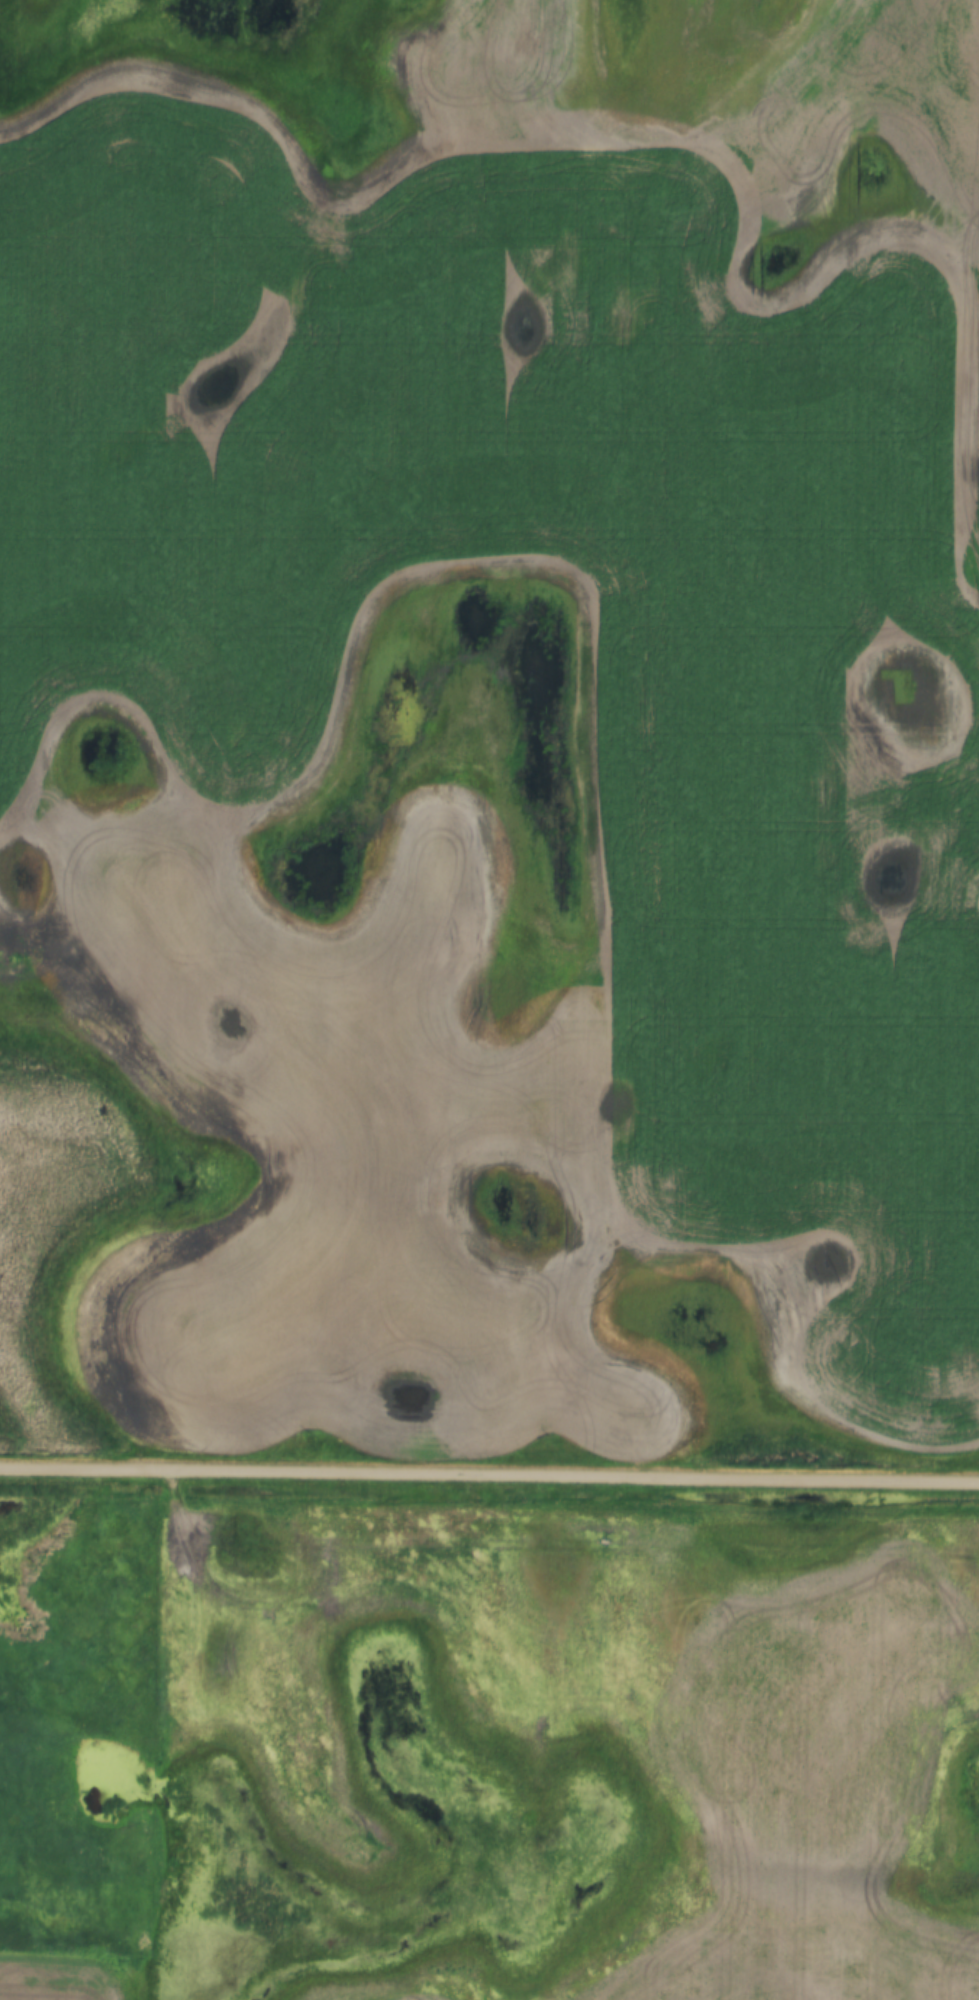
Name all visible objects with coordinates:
road: (489, 1474)

